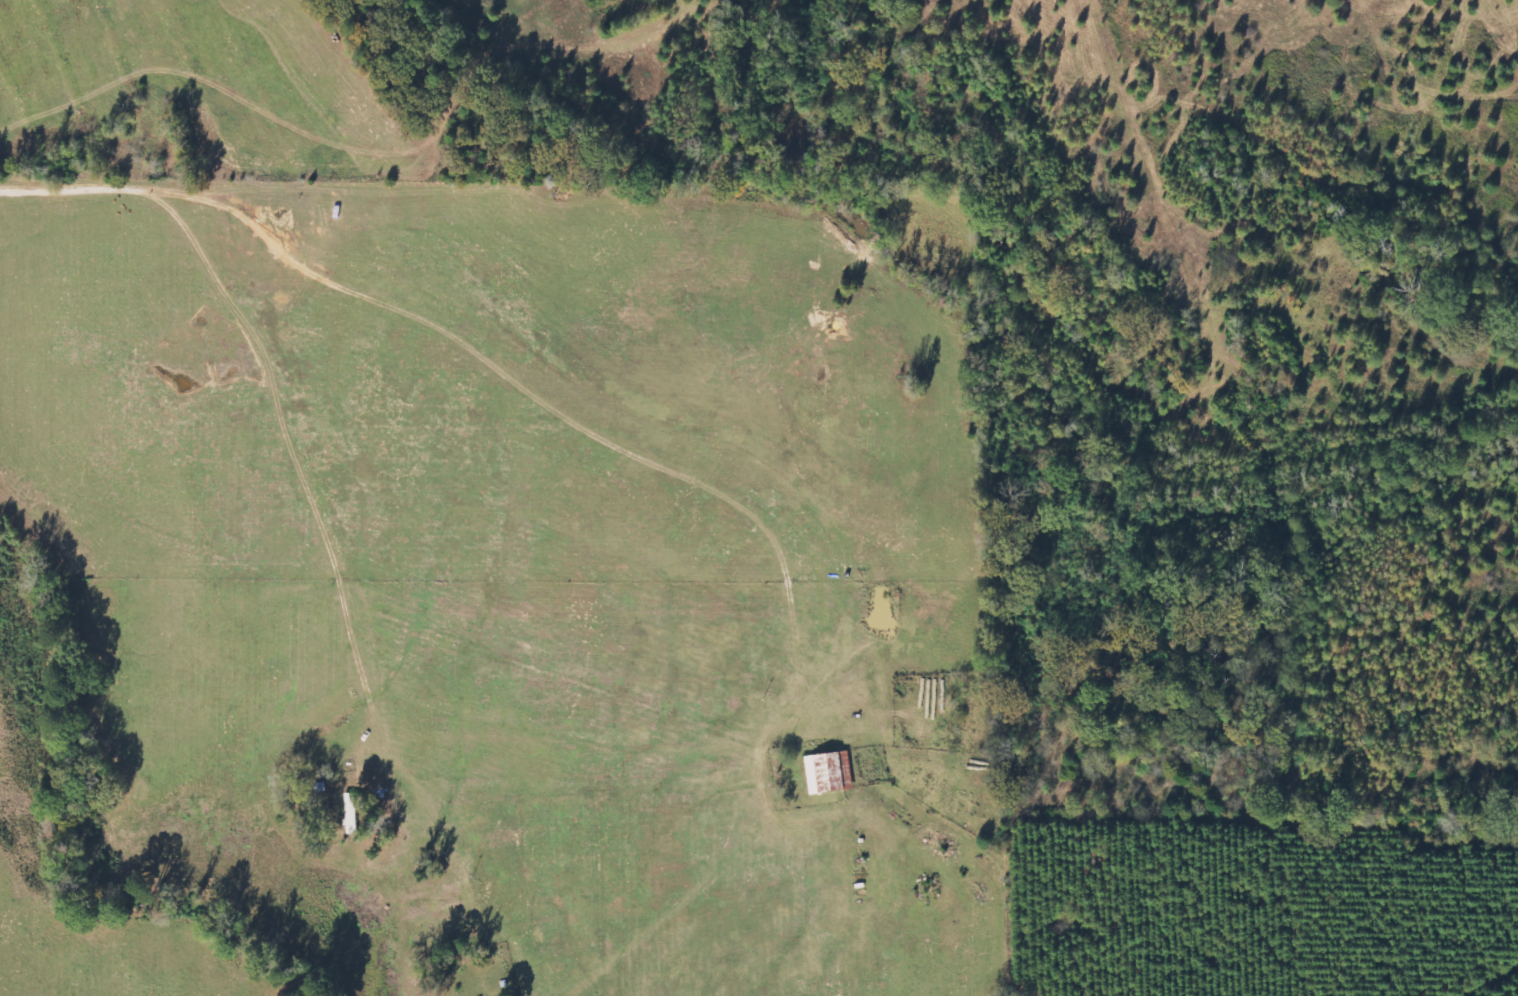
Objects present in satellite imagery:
road: (516, 309)
building: (830, 773)
building: (353, 812)

